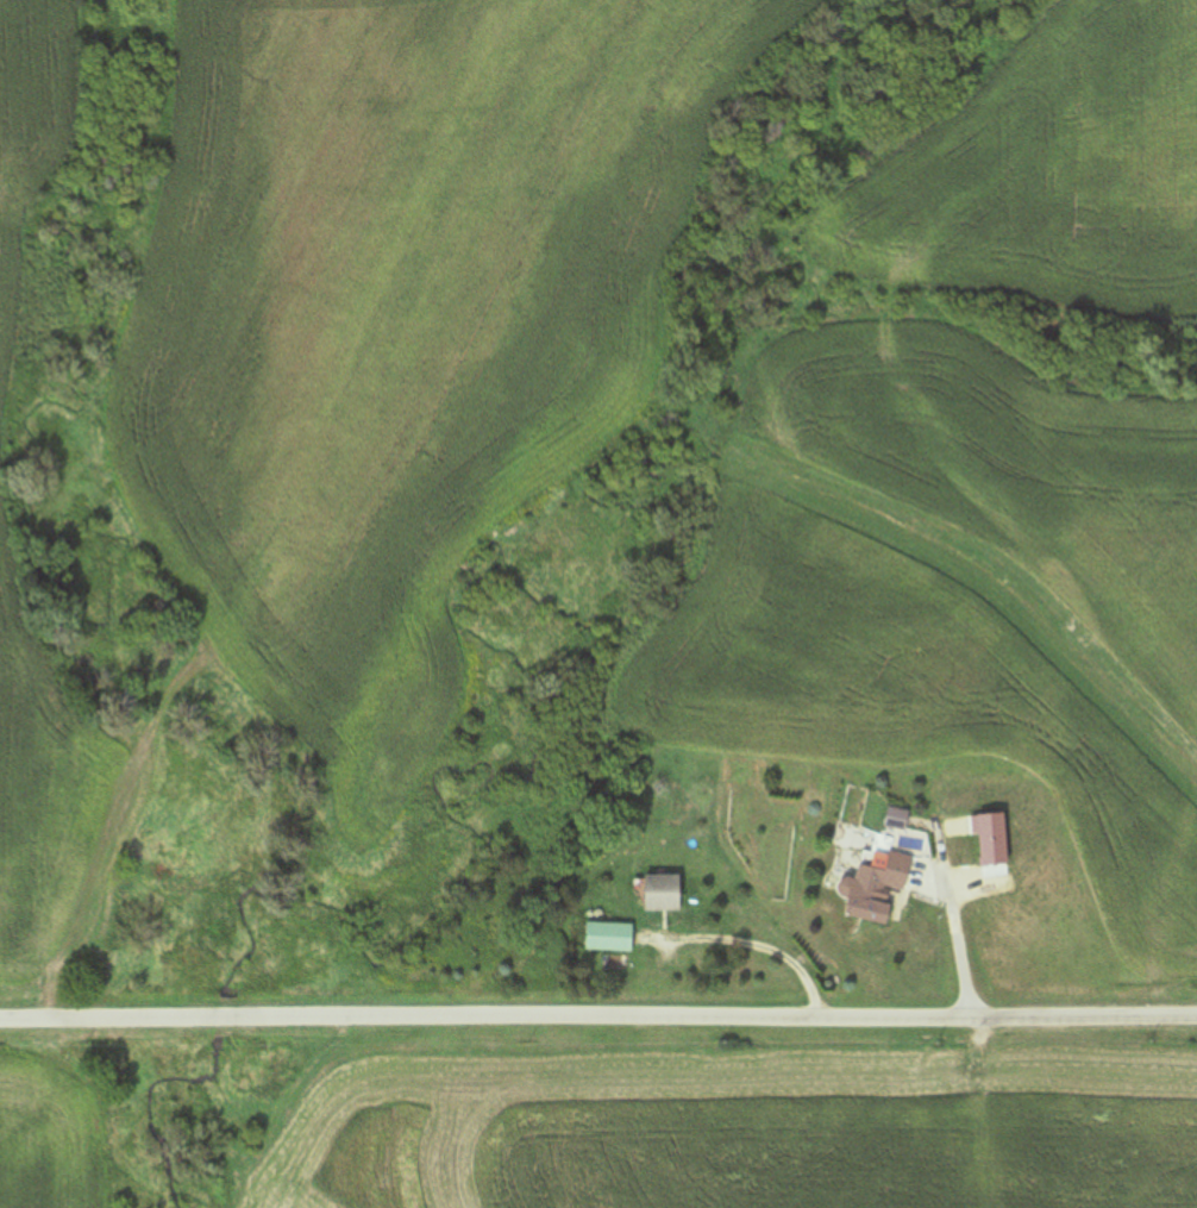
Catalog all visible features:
building: (898, 819)
building: (879, 882)
building: (663, 894)
road: (955, 926)
building: (609, 937)
road: (751, 947)
road: (598, 1015)

